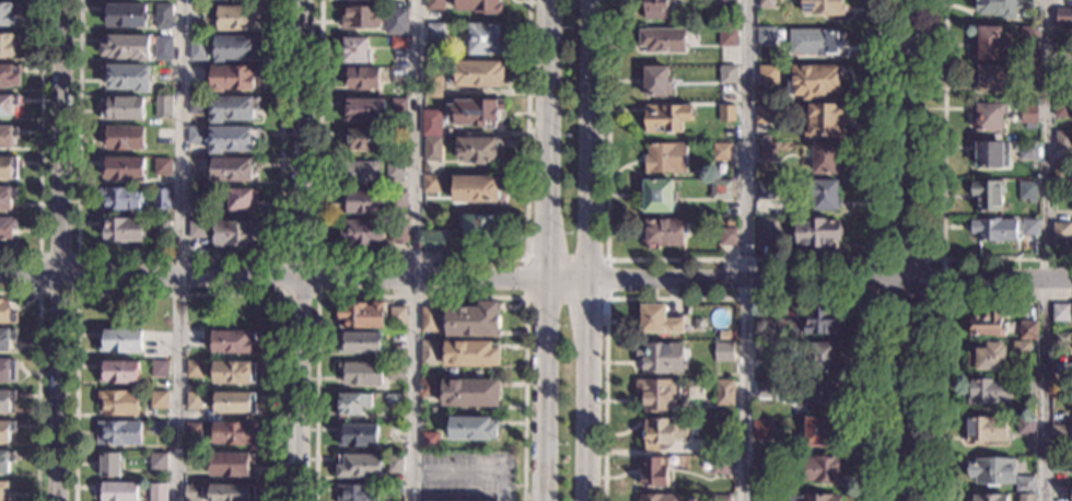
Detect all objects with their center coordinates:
building: (370, 0)
building: (727, 3)
building: (767, 3)
building: (434, 4)
building: (480, 5)
building: (1003, 7)
building: (822, 8)
building: (656, 10)
building: (8, 13)
building: (126, 15)
building: (163, 16)
building: (1063, 16)
building: (232, 18)
building: (361, 19)
building: (396, 21)
building: (434, 31)
building: (766, 37)
building: (1029, 37)
building: (727, 38)
building: (486, 39)
building: (662, 40)
building: (398, 43)
building: (817, 43)
building: (8, 45)
building: (991, 45)
building: (126, 47)
building: (162, 48)
building: (235, 48)
building: (198, 49)
building: (356, 50)
building: (478, 73)
building: (727, 74)
building: (9, 75)
building: (768, 75)
building: (1030, 75)
building: (127, 78)
building: (361, 78)
building: (232, 79)
building: (992, 79)
building: (655, 82)
building: (814, 82)
building: (432, 85)
building: (197, 104)
building: (8, 105)
building: (163, 107)
building: (398, 107)
building: (121, 108)
building: (232, 108)
building: (1063, 108)
building: (363, 110)
building: (474, 112)
building: (726, 114)
building: (766, 114)
building: (1029, 114)
building: (989, 116)
building: (666, 118)
building: (825, 120)
building: (431, 123)
building: (7, 136)
building: (196, 136)
building: (123, 138)
building: (766, 138)
building: (232, 139)
building: (363, 139)
building: (1063, 141)
road: (38, 145)
building: (432, 149)
building: (479, 150)
building: (1028, 151)
building: (722, 152)
building: (767, 152)
building: (992, 154)
building: (825, 158)
building: (666, 159)
building: (162, 167)
building: (8, 168)
building: (124, 168)
building: (233, 170)
building: (395, 171)
building: (1061, 171)
building: (359, 173)
building: (430, 184)
building: (695, 188)
building: (476, 189)
building: (721, 190)
building: (765, 190)
building: (1028, 190)
road: (943, 194)
building: (988, 195)
building: (657, 196)
building: (827, 196)
building: (196, 197)
building: (7, 198)
building: (121, 198)
building: (398, 198)
building: (161, 199)
building: (241, 199)
building: (365, 202)
building: (730, 222)
building: (161, 228)
building: (1030, 228)
building: (7, 229)
building: (197, 229)
building: (123, 230)
building: (994, 230)
building: (481, 231)
building: (1062, 232)
building: (233, 233)
building: (362, 233)
building: (663, 233)
building: (768, 233)
building: (398, 234)
building: (816, 234)
building: (727, 237)
building: (432, 242)
road: (59, 249)
road: (178, 249)
road: (298, 250)
road: (415, 250)
road: (545, 250)
road: (590, 250)
road: (747, 250)
road: (910, 250)
road: (1048, 250)
road: (178, 258)
road: (421, 259)
road: (739, 259)
road: (874, 259)
road: (319, 280)
road: (855, 280)
road: (74, 293)
road: (177, 293)
road: (280, 294)
road: (419, 298)
road: (525, 298)
road: (742, 299)
building: (8, 313)
building: (1061, 313)
building: (397, 315)
building: (361, 316)
building: (429, 319)
building: (473, 321)
building: (660, 321)
building: (816, 323)
building: (987, 324)
building: (1028, 330)
road: (942, 334)
building: (724, 336)
building: (1063, 338)
building: (7, 339)
building: (120, 341)
building: (234, 342)
building: (360, 343)
building: (1022, 350)
building: (724, 352)
building: (429, 353)
building: (764, 353)
building: (471, 354)
building: (662, 358)
building: (988, 358)
building: (824, 359)
building: (160, 369)
building: (195, 370)
building: (1062, 370)
building: (7, 371)
building: (118, 372)
building: (234, 372)
building: (395, 372)
building: (362, 374)
road: (37, 377)
building: (1025, 386)
building: (428, 387)
building: (764, 389)
building: (989, 392)
building: (469, 393)
building: (724, 393)
building: (818, 394)
building: (656, 395)
building: (395, 398)
building: (159, 399)
building: (7, 400)
building: (194, 401)
building: (118, 403)
building: (234, 403)
building: (353, 405)
building: (153, 411)
building: (723, 412)
building: (432, 421)
building: (1026, 426)
building: (159, 428)
building: (471, 429)
building: (761, 430)
building: (986, 430)
building: (5, 431)
building: (819, 431)
building: (193, 432)
building: (395, 432)
building: (118, 433)
building: (234, 433)
building: (1060, 433)
building: (661, 434)
building: (358, 435)
building: (430, 441)
building: (708, 450)
building: (5, 461)
building: (155, 462)
building: (764, 462)
building: (395, 464)
building: (1060, 464)
building: (108, 465)
building: (231, 465)
building: (719, 465)
building: (360, 467)
building: (820, 469)
building: (993, 470)
building: (654, 474)
road: (452, 477)
road: (510, 483)
road: (517, 485)
building: (1025, 485)
building: (7, 489)
building: (393, 490)
building: (117, 491)
building: (158, 492)
building: (193, 492)
building: (231, 492)
building: (358, 493)
building: (764, 497)
building: (904, 497)
building: (1026, 497)
building: (659, 498)
building: (720, 498)
building: (990, 498)
building: (814, 499)

